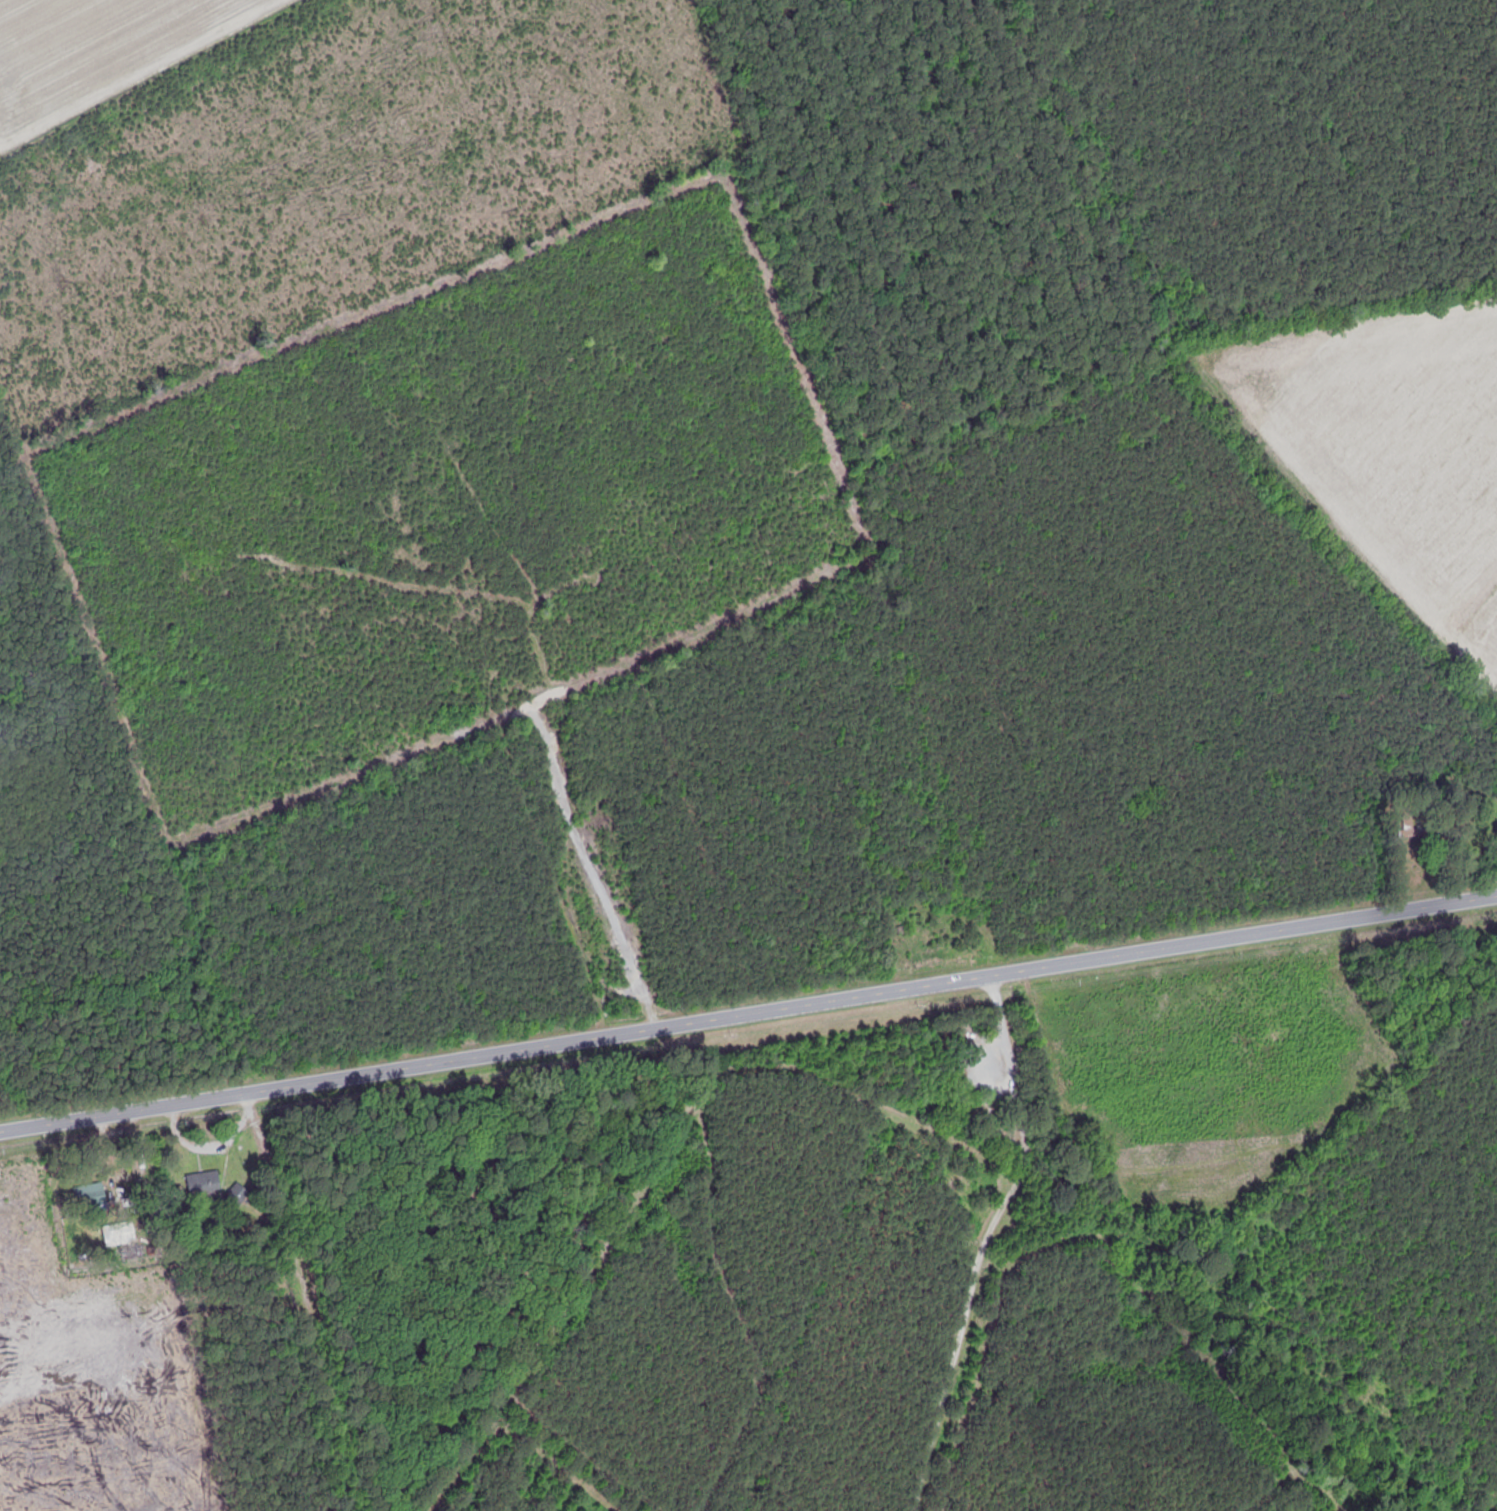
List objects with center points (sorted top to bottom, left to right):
building: (1407, 828)
road: (748, 1013)
building: (202, 1183)
building: (88, 1194)
building: (234, 1196)
park: (772, 1294)
road: (329, 1299)

